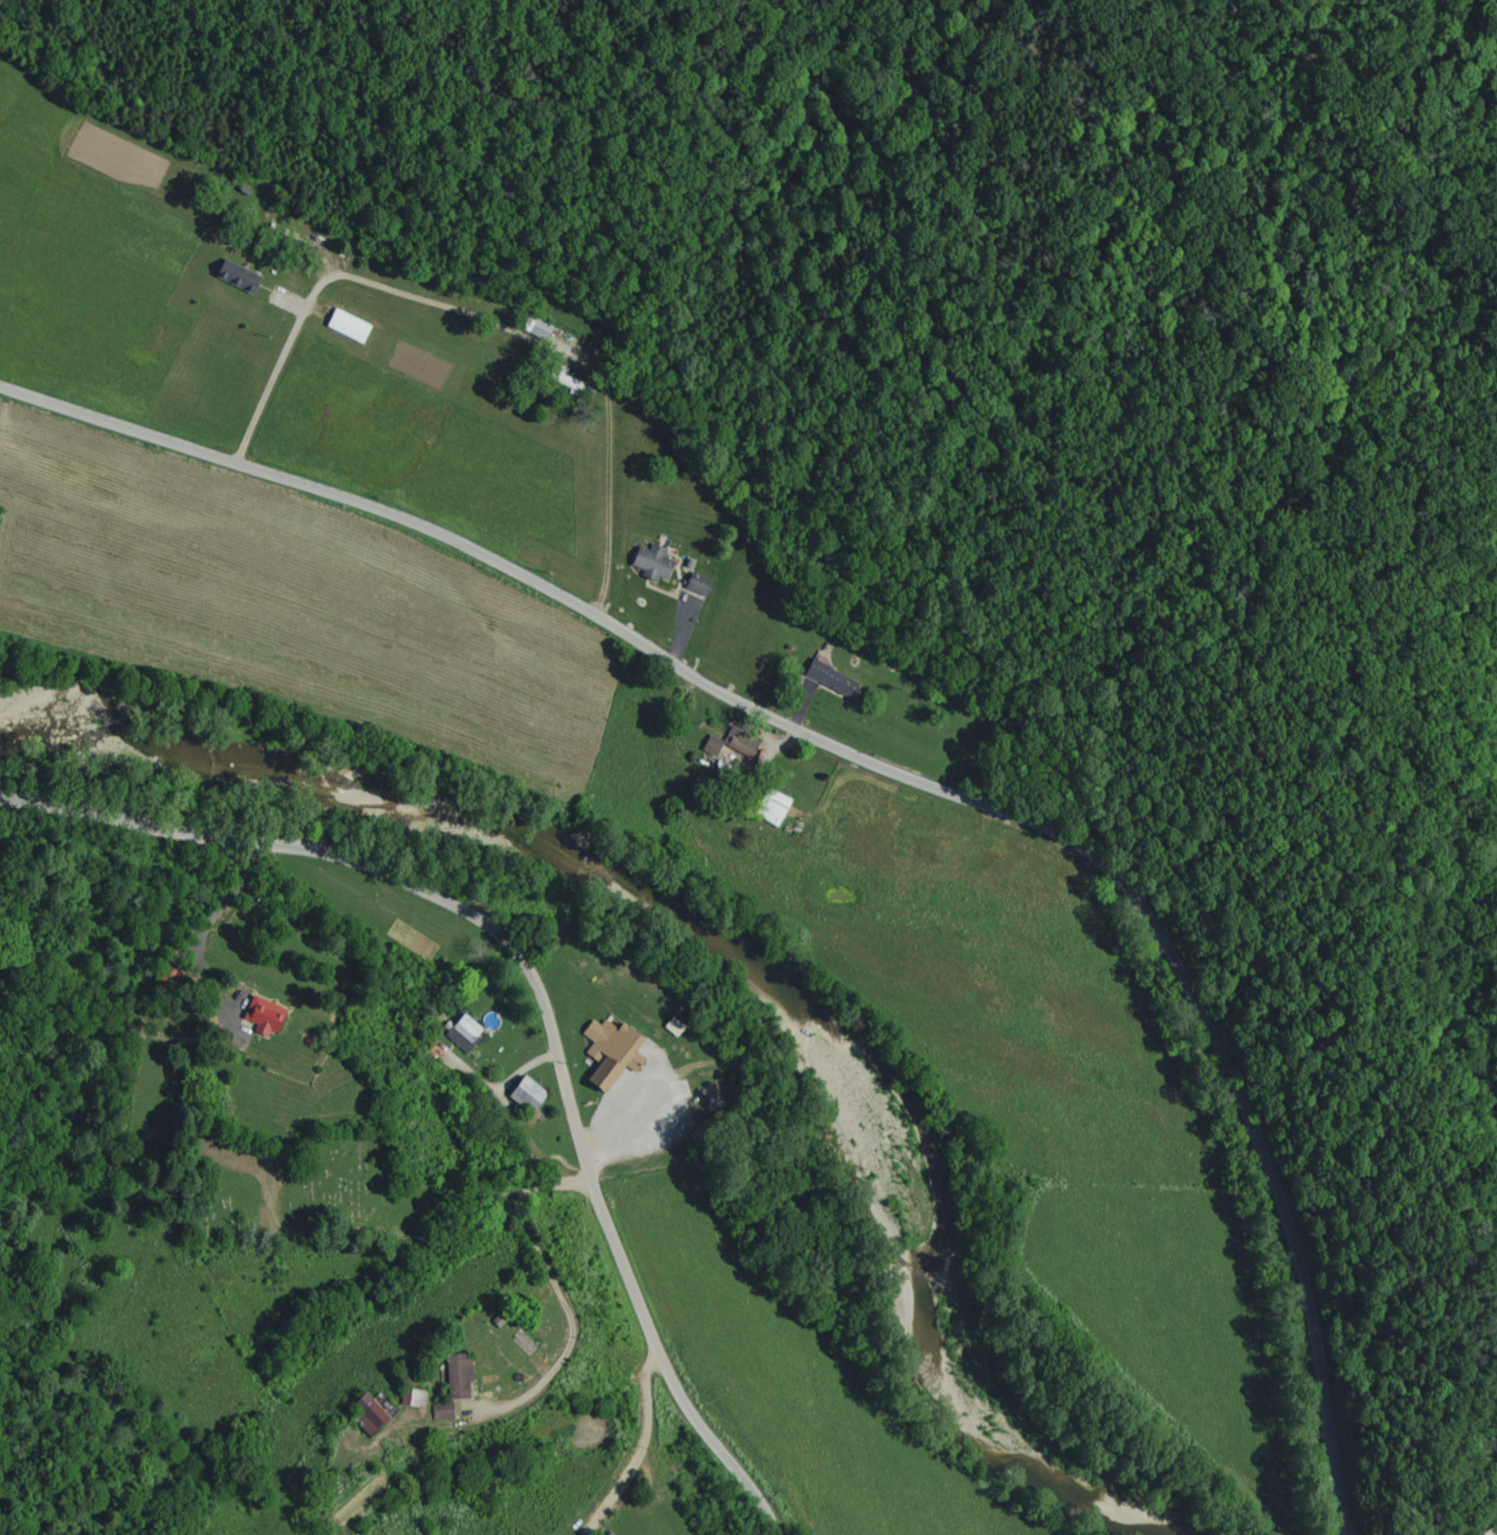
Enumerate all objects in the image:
building: (232, 278)
building: (535, 329)
road: (494, 350)
building: (646, 563)
building: (692, 585)
building: (825, 680)
building: (738, 746)
building: (709, 748)
road: (876, 783)
road: (203, 927)
river: (717, 972)
road: (540, 994)
building: (257, 1017)
building: (461, 1034)
building: (604, 1054)
building: (520, 1094)
road: (615, 1119)
road: (565, 1294)
building: (455, 1378)
building: (367, 1410)
building: (439, 1411)
road: (640, 1447)

